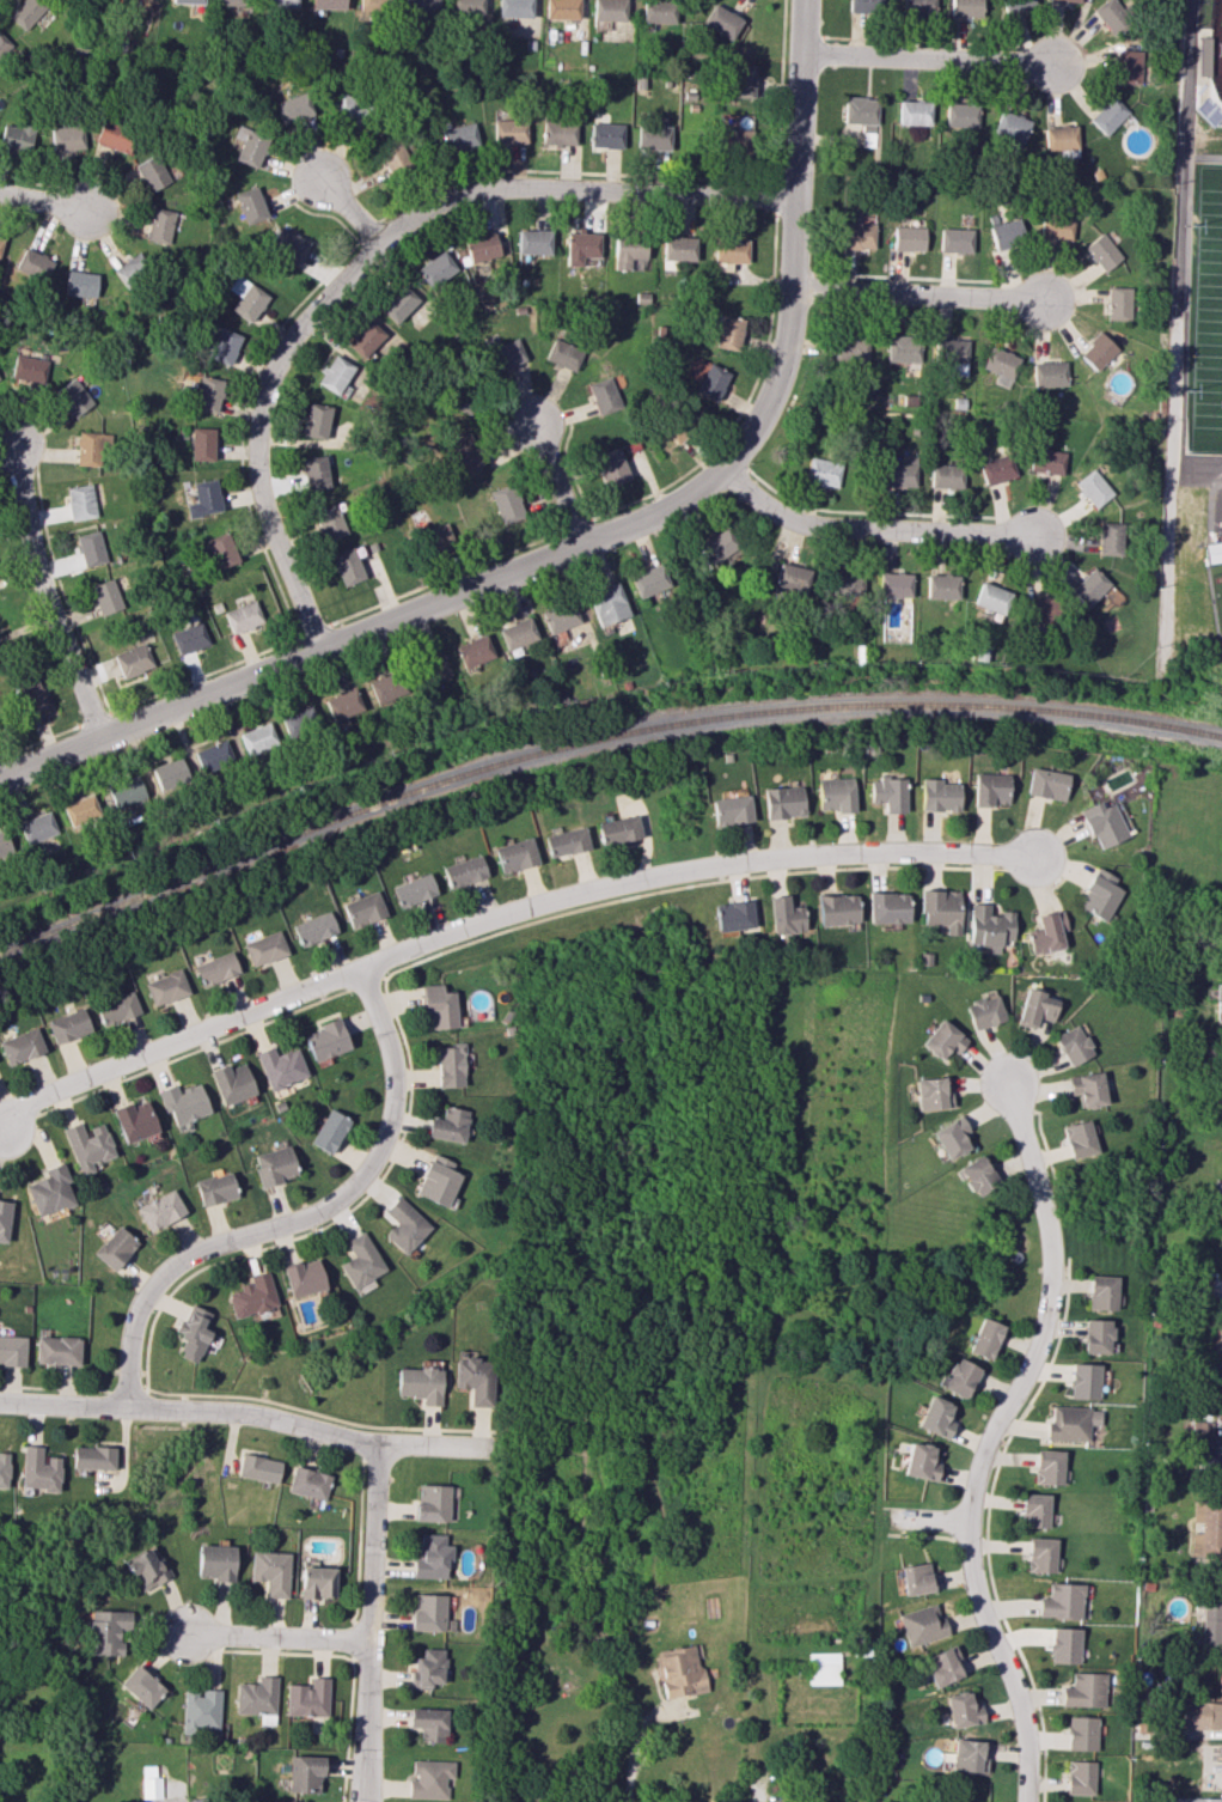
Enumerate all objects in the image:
building: (1070, 0)
building: (188, 1)
building: (233, 2)
building: (281, 4)
building: (329, 4)
building: (1018, 4)
building: (418, 6)
building: (863, 6)
building: (466, 7)
building: (917, 7)
building: (514, 8)
building: (561, 8)
building: (965, 8)
building: (607, 10)
building: (656, 11)
building: (25, 12)
building: (1112, 16)
building: (721, 22)
road: (801, 37)
building: (2, 39)
park: (1212, 39)
road: (918, 42)
building: (1203, 56)
road: (928, 57)
building: (1128, 66)
building: (741, 81)
road: (798, 98)
building: (349, 106)
building: (294, 108)
building: (861, 112)
building: (914, 112)
building: (960, 115)
building: (1107, 115)
building: (509, 130)
building: (1009, 130)
building: (561, 132)
building: (605, 135)
building: (115, 136)
building: (16, 138)
building: (66, 138)
building: (459, 138)
building: (653, 138)
building: (1059, 138)
building: (733, 140)
building: (250, 146)
building: (392, 153)
building: (152, 172)
road: (665, 177)
road: (29, 179)
road: (776, 197)
road: (42, 201)
building: (251, 205)
road: (352, 213)
building: (160, 224)
building: (1056, 226)
road: (372, 231)
building: (1008, 232)
building: (856, 236)
building: (908, 238)
building: (954, 239)
building: (0, 241)
building: (533, 242)
building: (288, 245)
building: (481, 246)
building: (580, 246)
building: (677, 249)
building: (627, 250)
road: (368, 251)
building: (1102, 251)
building: (728, 252)
building: (33, 264)
building: (435, 268)
building: (129, 269)
road: (793, 273)
road: (908, 278)
building: (80, 284)
road: (918, 294)
building: (248, 298)
building: (398, 303)
building: (1118, 303)
park: (1205, 321)
building: (726, 331)
building: (367, 339)
road: (784, 340)
building: (225, 346)
building: (850, 347)
building: (903, 348)
building: (1096, 351)
building: (506, 354)
building: (563, 354)
building: (952, 354)
building: (1000, 365)
building: (29, 370)
building: (1047, 373)
building: (336, 376)
building: (710, 382)
building: (209, 394)
building: (603, 395)
building: (74, 396)
building: (316, 420)
building: (667, 434)
building: (202, 444)
road: (710, 451)
building: (464, 453)
road: (734, 456)
building: (1046, 461)
building: (610, 467)
building: (996, 469)
building: (821, 471)
building: (899, 471)
building: (314, 473)
building: (945, 476)
road: (555, 483)
road: (245, 486)
building: (1092, 488)
building: (204, 499)
building: (80, 501)
building: (506, 504)
road: (866, 512)
building: (329, 522)
road: (576, 525)
road: (867, 528)
building: (438, 537)
building: (1108, 538)
building: (717, 546)
building: (91, 548)
building: (221, 550)
building: (1212, 550)
building: (347, 566)
road: (447, 578)
building: (792, 578)
building: (648, 580)
building: (844, 582)
building: (893, 584)
building: (941, 586)
building: (1088, 586)
road: (63, 593)
road: (44, 595)
building: (106, 596)
building: (992, 598)
building: (606, 603)
building: (1041, 610)
building: (243, 616)
building: (558, 616)
road: (365, 629)
road: (316, 631)
building: (517, 633)
building: (189, 638)
building: (473, 651)
building: (133, 659)
building: (432, 668)
building: (385, 687)
building: (30, 695)
building: (342, 705)
road: (98, 718)
building: (298, 722)
building: (257, 737)
road: (42, 742)
railway: (594, 742)
building: (171, 773)
building: (1046, 784)
building: (990, 789)
building: (127, 791)
building: (888, 793)
building: (835, 795)
building: (939, 796)
building: (783, 802)
building: (80, 810)
building: (731, 810)
building: (1102, 824)
building: (37, 827)
building: (617, 829)
building: (566, 841)
building: (0, 852)
building: (515, 854)
building: (464, 871)
building: (414, 889)
building: (1099, 895)
building: (887, 907)
building: (363, 908)
building: (837, 909)
building: (940, 909)
road: (501, 912)
building: (733, 915)
building: (784, 915)
building: (988, 926)
building: (314, 929)
building: (1046, 932)
building: (1220, 940)
building: (265, 948)
building: (216, 968)
building: (166, 987)
building: (439, 1007)
building: (1034, 1007)
building: (1218, 1007)
building: (117, 1009)
building: (983, 1011)
building: (68, 1025)
building: (326, 1040)
building: (942, 1040)
building: (1071, 1045)
building: (22, 1046)
building: (281, 1066)
building: (450, 1066)
building: (232, 1083)
building: (1086, 1089)
building: (931, 1094)
building: (1221, 1101)
building: (183, 1104)
building: (134, 1120)
building: (448, 1125)
building: (329, 1131)
building: (951, 1137)
building: (1077, 1139)
building: (87, 1145)
building: (275, 1165)
building: (976, 1176)
building: (438, 1180)
building: (1221, 1182)
building: (215, 1188)
building: (50, 1191)
building: (160, 1210)
road: (301, 1217)
building: (4, 1219)
building: (404, 1225)
building: (115, 1247)
building: (360, 1260)
building: (303, 1277)
building: (1101, 1292)
building: (1215, 1295)
building: (251, 1296)
building: (193, 1333)
building: (1096, 1335)
building: (984, 1338)
building: (12, 1350)
building: (57, 1350)
building: (1214, 1376)
building: (960, 1377)
building: (475, 1380)
building: (1084, 1381)
building: (420, 1384)
road: (234, 1408)
building: (936, 1417)
building: (1071, 1423)
building: (1200, 1426)
road: (991, 1441)
building: (1210, 1456)
building: (92, 1457)
building: (921, 1461)
building: (1047, 1467)
building: (258, 1468)
building: (4, 1469)
building: (38, 1469)
building: (308, 1483)
building: (433, 1502)
building: (1034, 1510)
road: (931, 1521)
building: (1206, 1530)
building: (1041, 1554)
building: (432, 1557)
building: (215, 1561)
building: (146, 1570)
building: (270, 1571)
building: (917, 1578)
building: (317, 1582)
building: (1061, 1601)
building: (428, 1612)
building: (1210, 1618)
road: (367, 1621)
building: (922, 1624)
building: (106, 1631)
road: (277, 1636)
building: (1064, 1645)
building: (943, 1666)
building: (428, 1668)
building: (823, 1668)
building: (678, 1669)
building: (141, 1686)
building: (1084, 1690)
building: (257, 1696)
building: (308, 1698)
building: (201, 1710)
building: (961, 1710)
building: (1202, 1715)
building: (428, 1723)
building: (1081, 1733)
road: (633, 1746)
building: (967, 1757)
building: (304, 1773)
building: (1080, 1777)
building: (429, 1778)
building: (149, 1783)
building: (1192, 1798)

